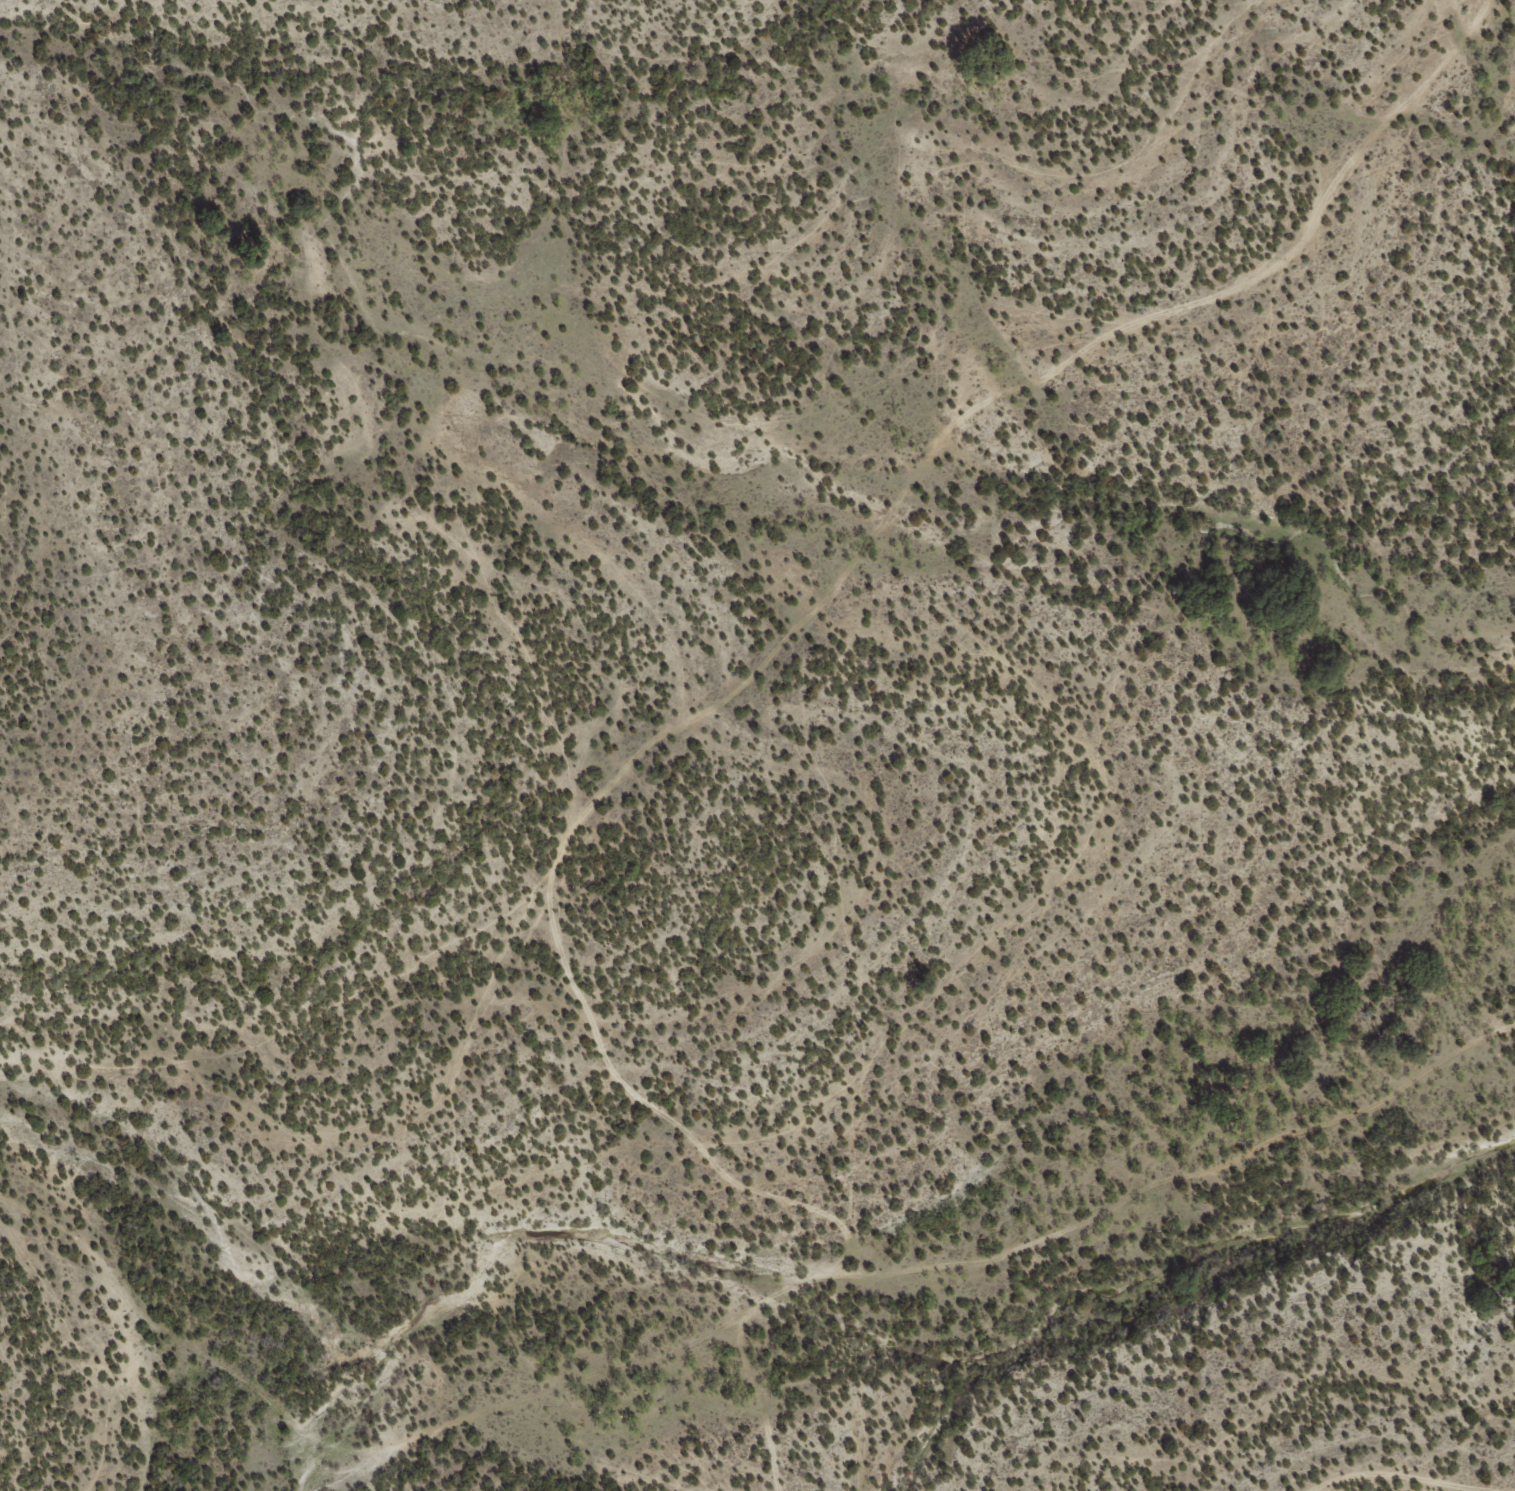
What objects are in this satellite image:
road: (1066, 1215)

